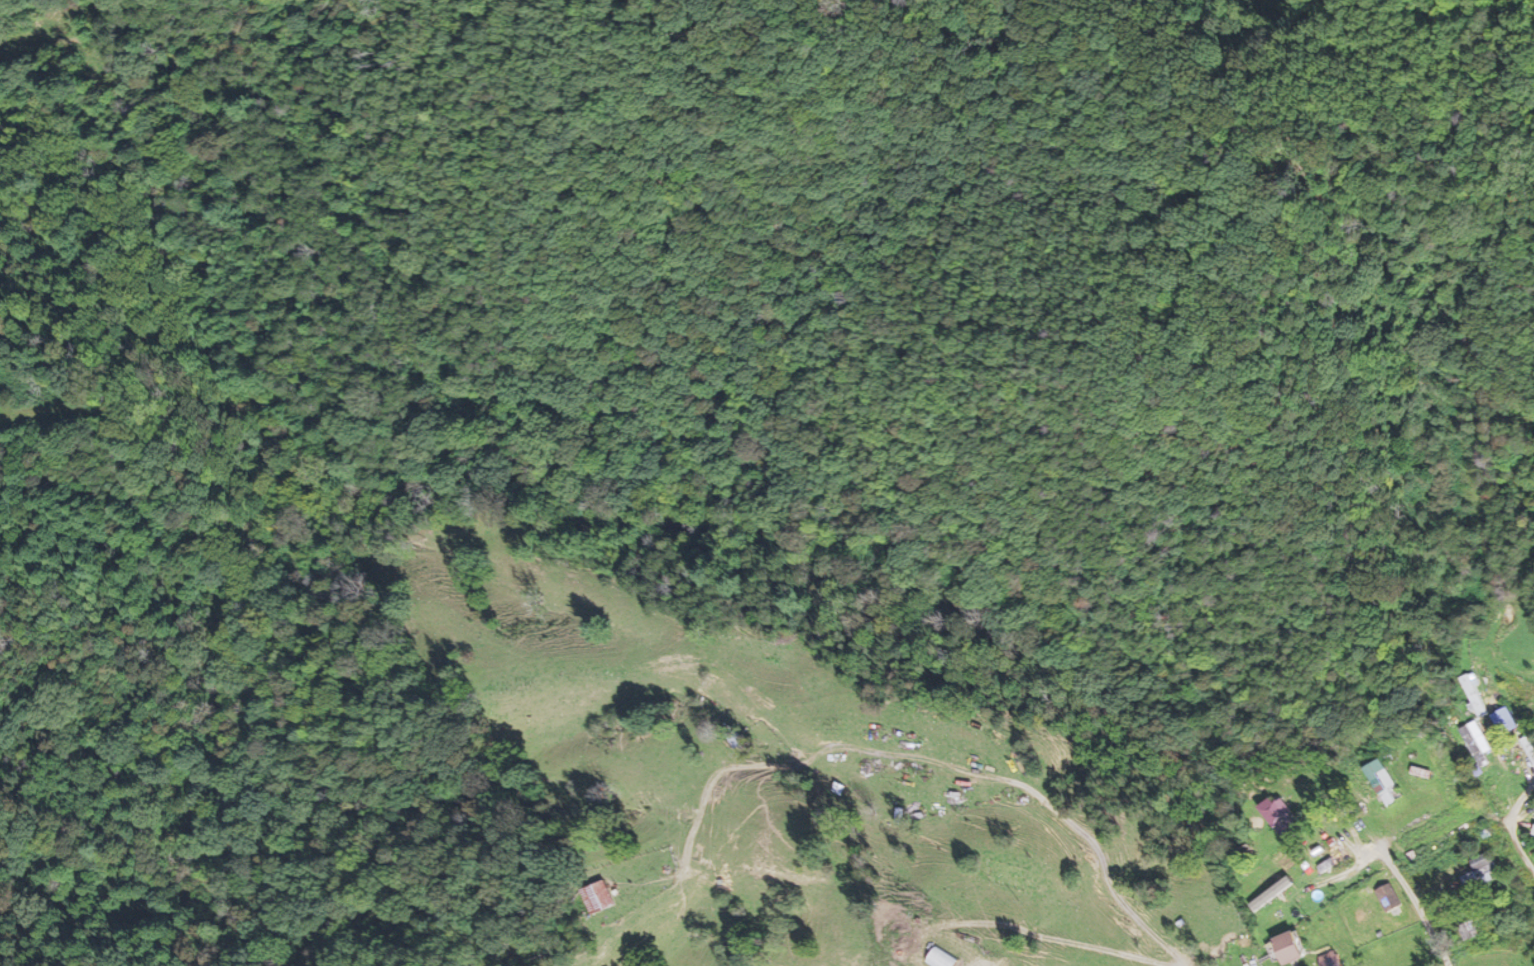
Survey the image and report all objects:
building: (1504, 721)
building: (738, 741)
building: (1421, 770)
building: (1280, 817)
road: (1515, 820)
building: (1329, 859)
building: (598, 898)
building: (1388, 898)
building: (1468, 932)
building: (1288, 949)
building: (938, 959)
building: (1328, 960)

